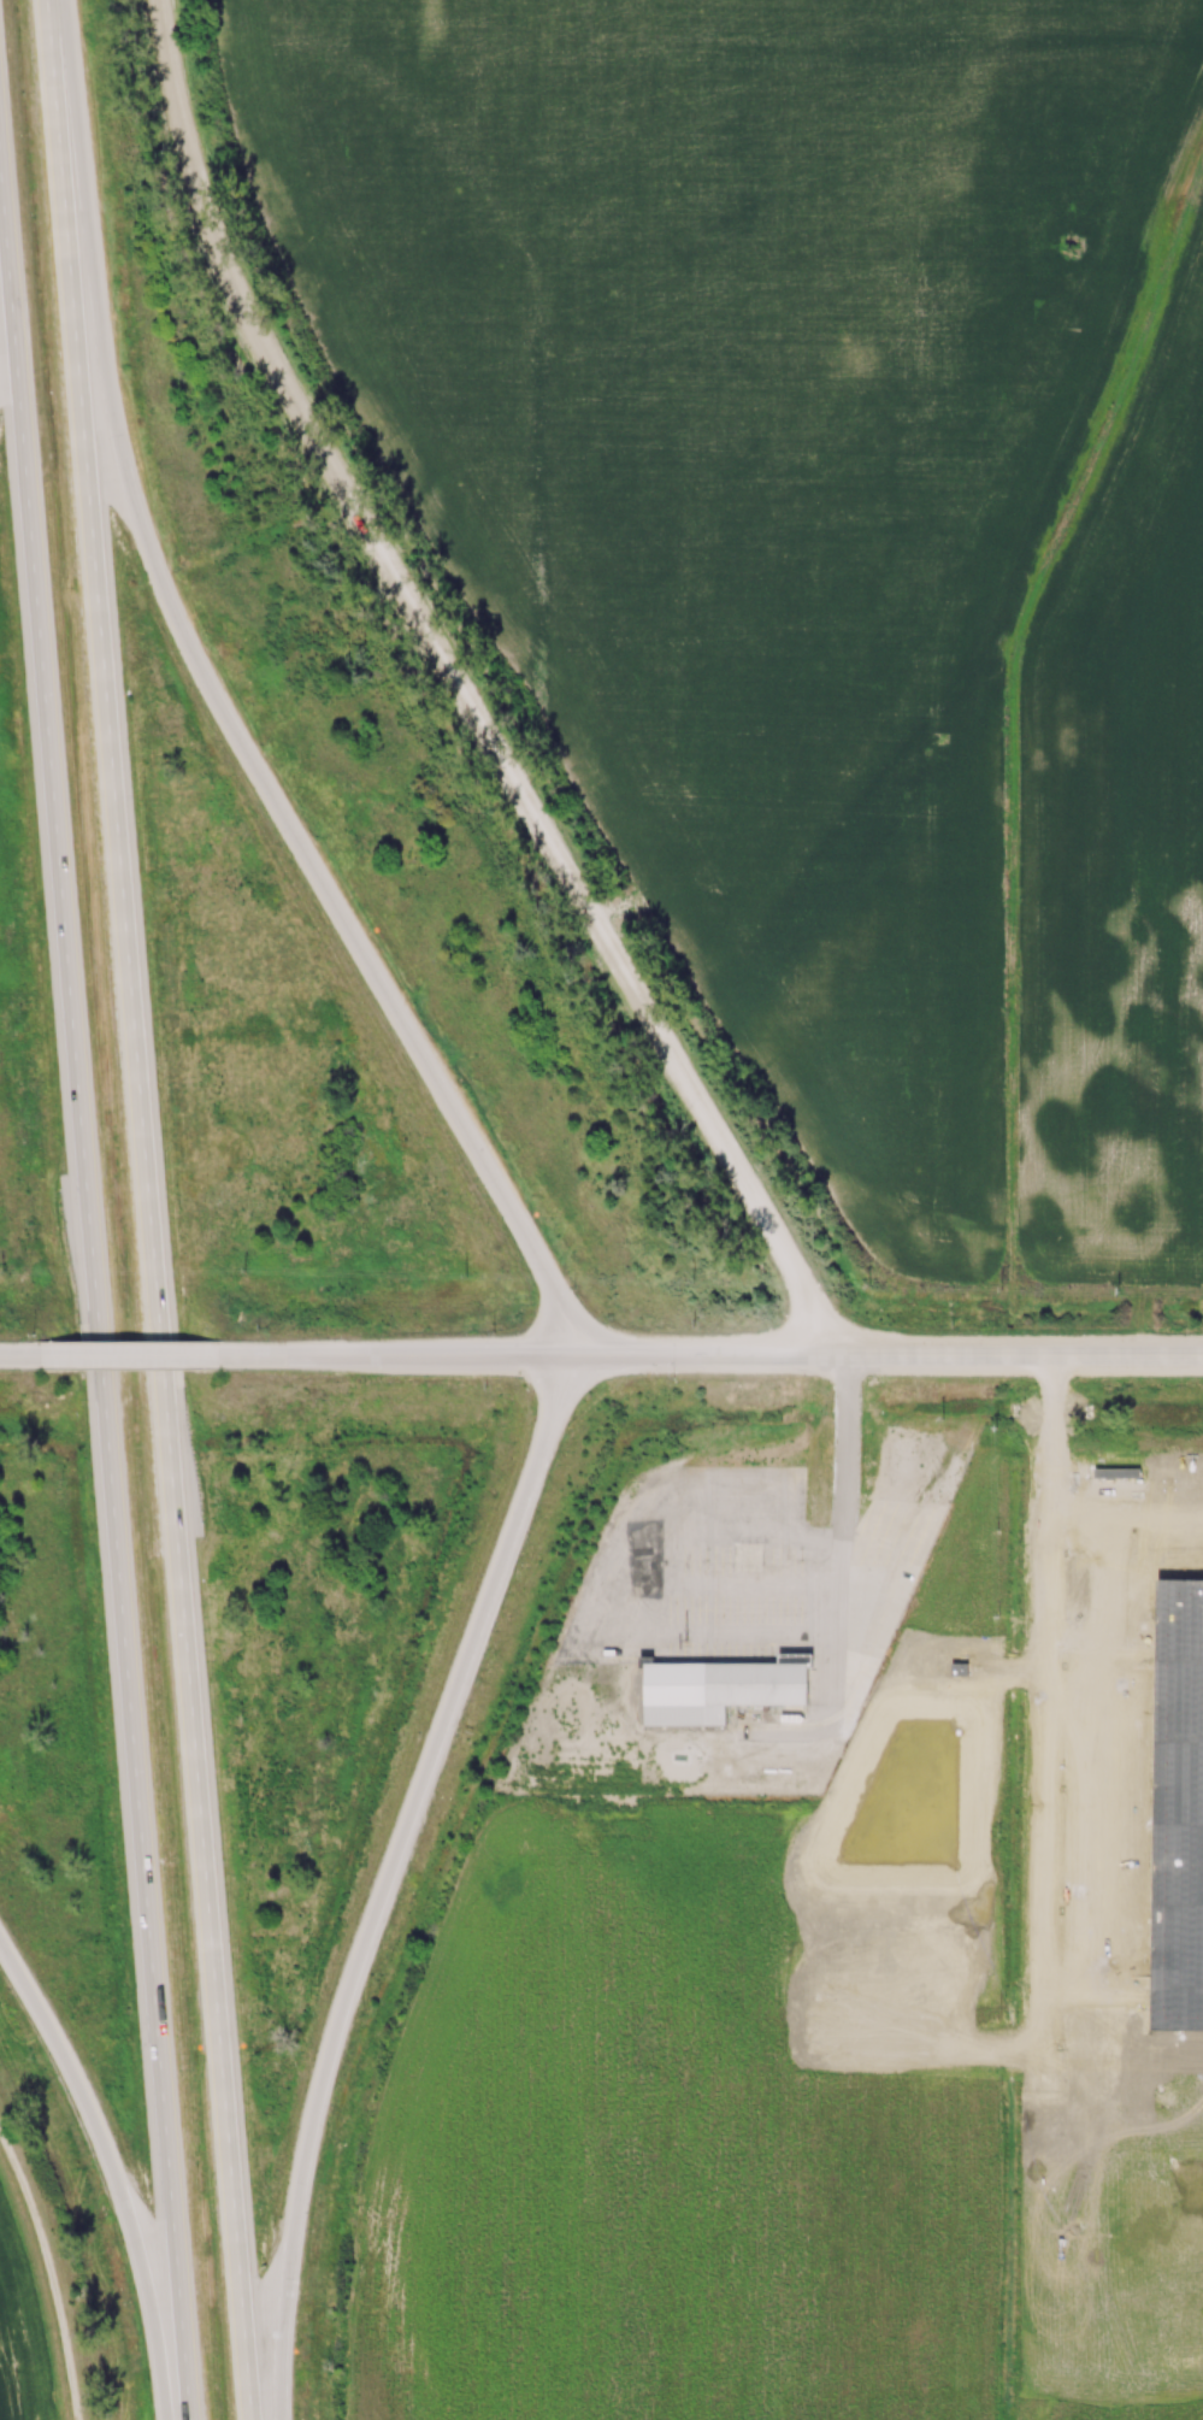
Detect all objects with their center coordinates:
road: (453, 690)
road: (214, 708)
road: (146, 1209)
road: (99, 1330)
road: (686, 1353)
road: (389, 1354)
road: (1008, 1354)
road: (18, 1355)
road: (126, 1355)
road: (682, 1631)
building: (720, 1690)
road: (381, 1878)
road: (107, 2175)

